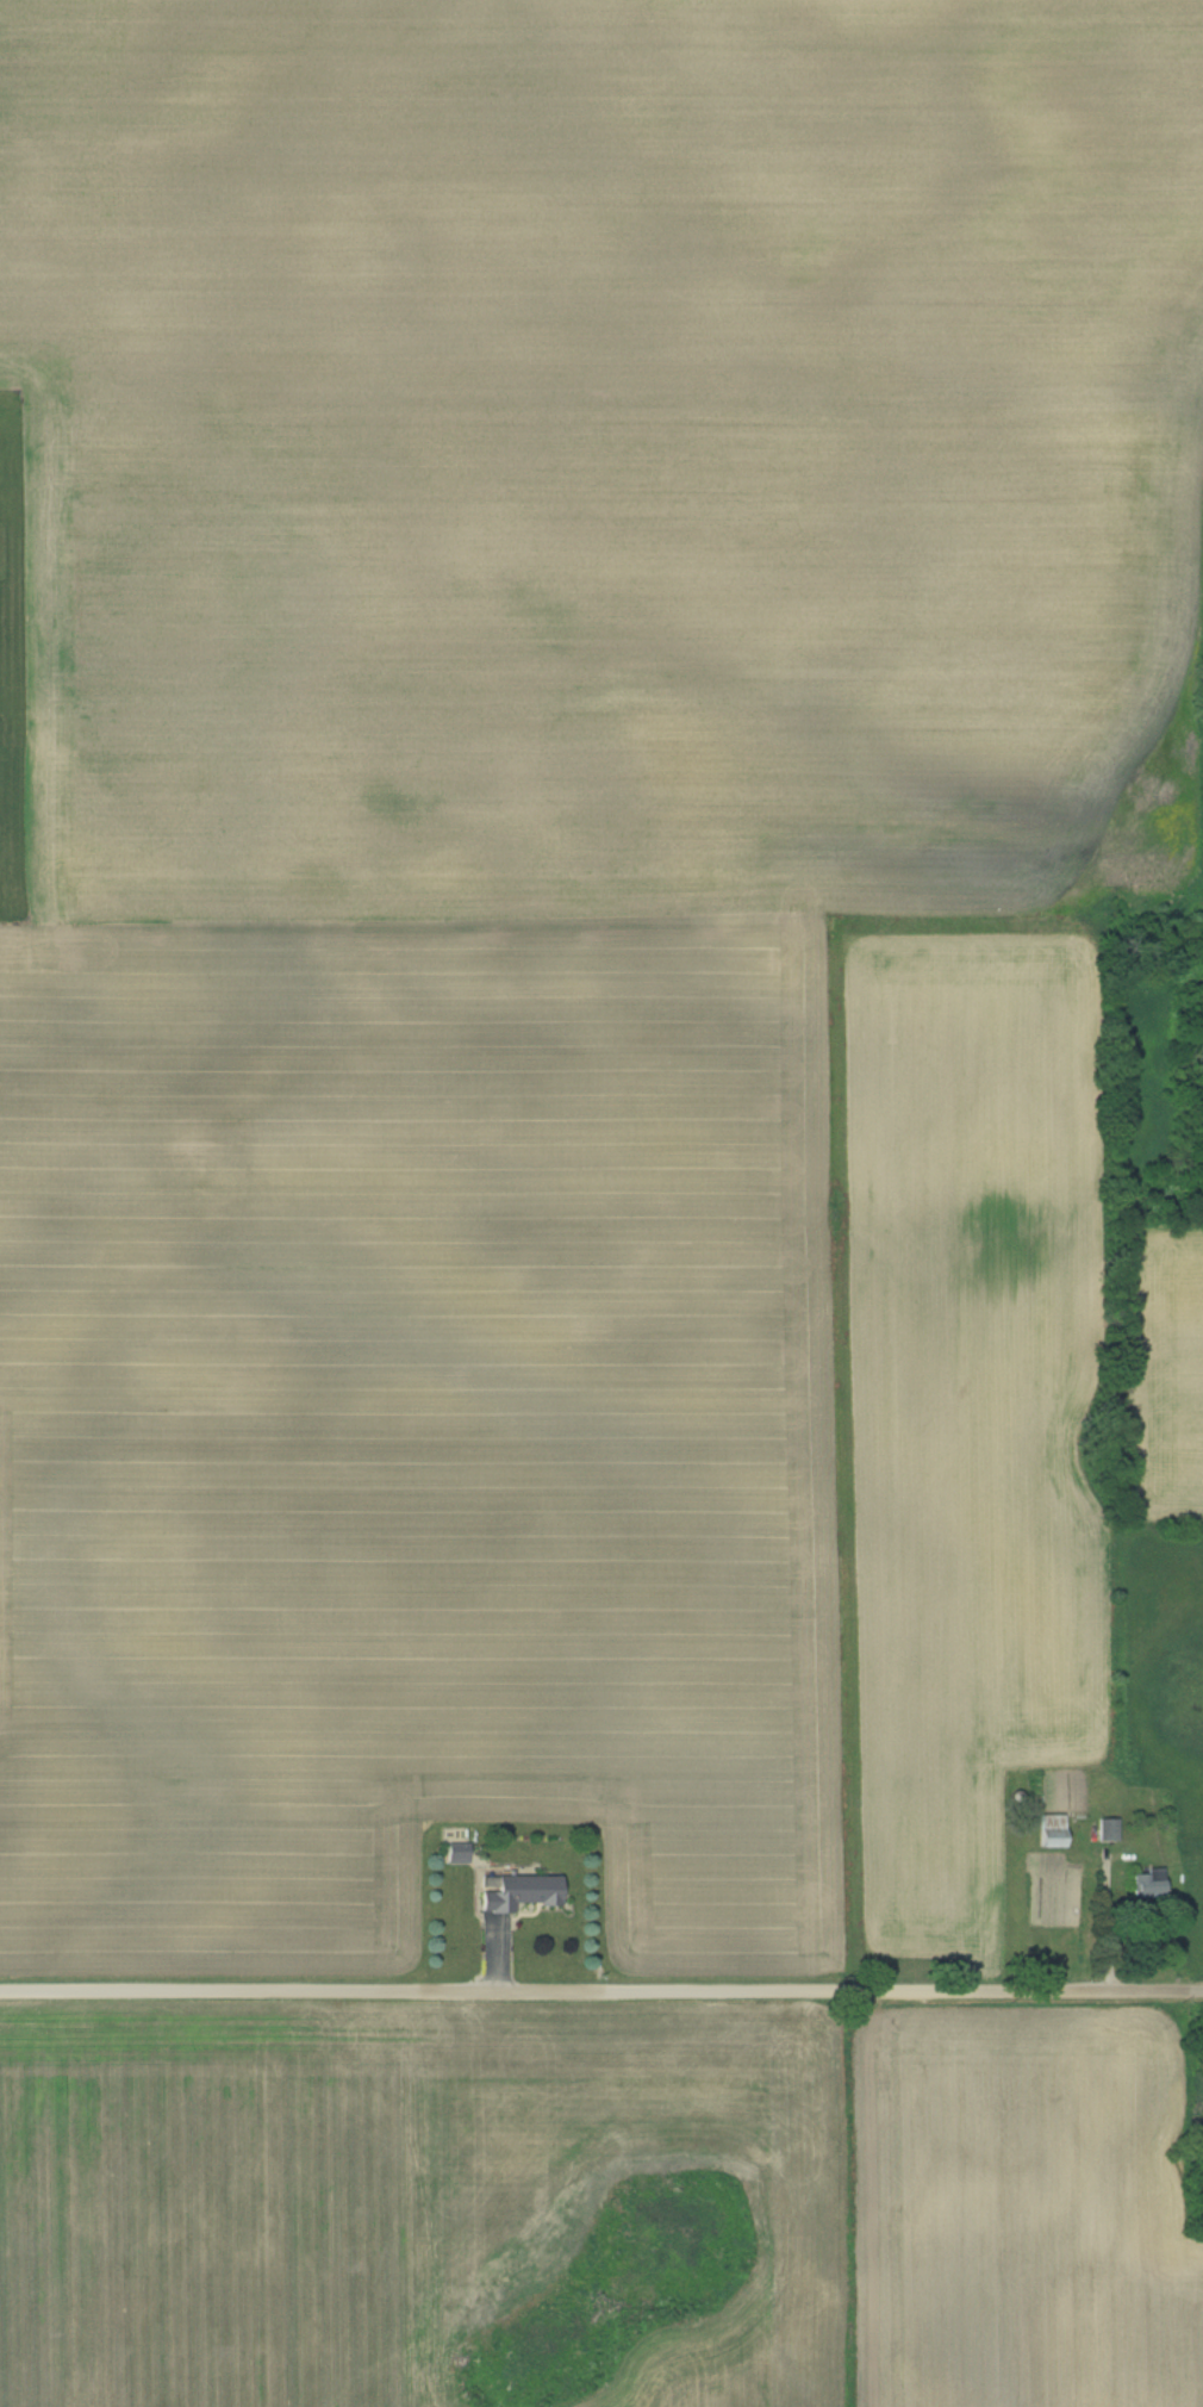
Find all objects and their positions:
building: (1108, 1829)
building: (1051, 1830)
building: (1147, 1883)
building: (516, 1891)
road: (601, 1991)

